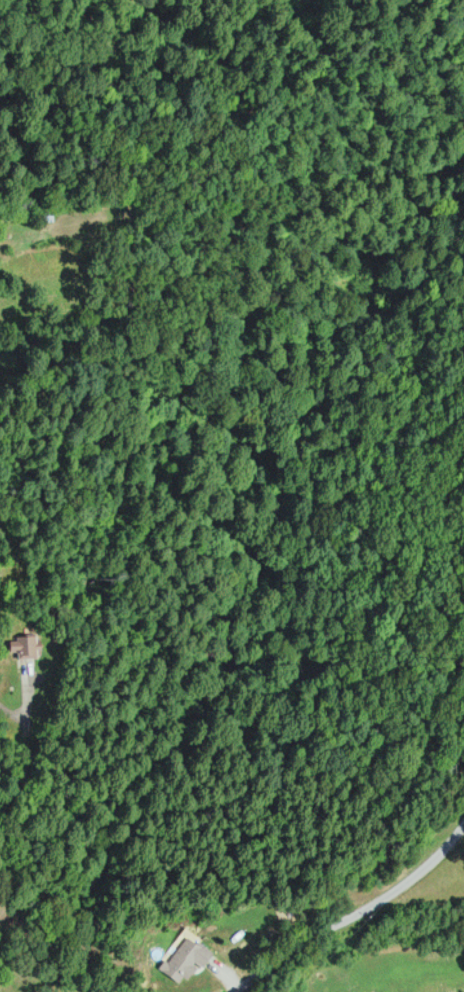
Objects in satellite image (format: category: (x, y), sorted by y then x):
building: (20, 648)
road: (354, 930)
building: (182, 962)

